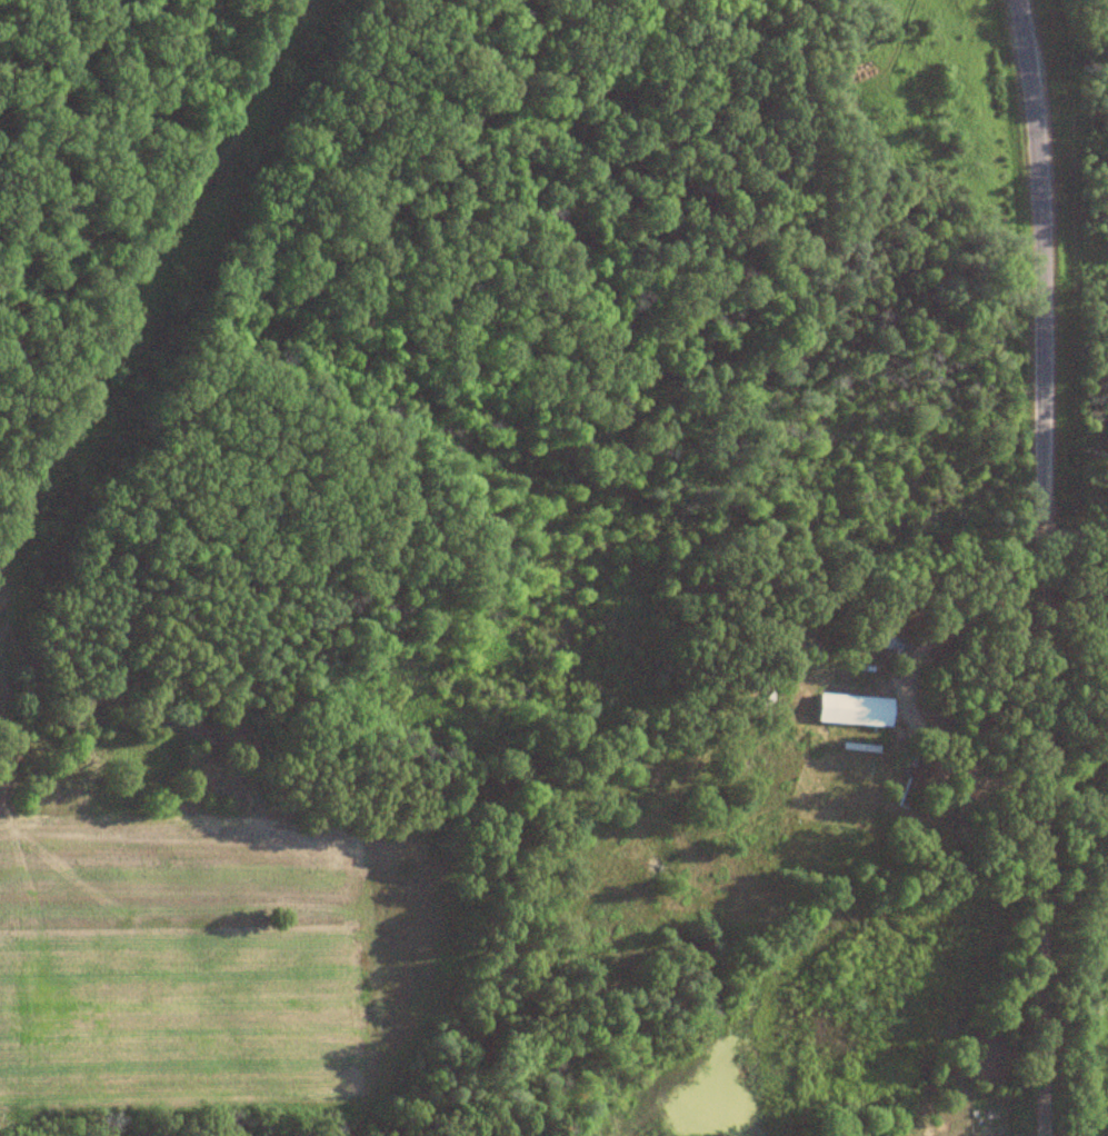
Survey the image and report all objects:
road: (1037, 477)
building: (854, 711)
road: (1044, 1046)

